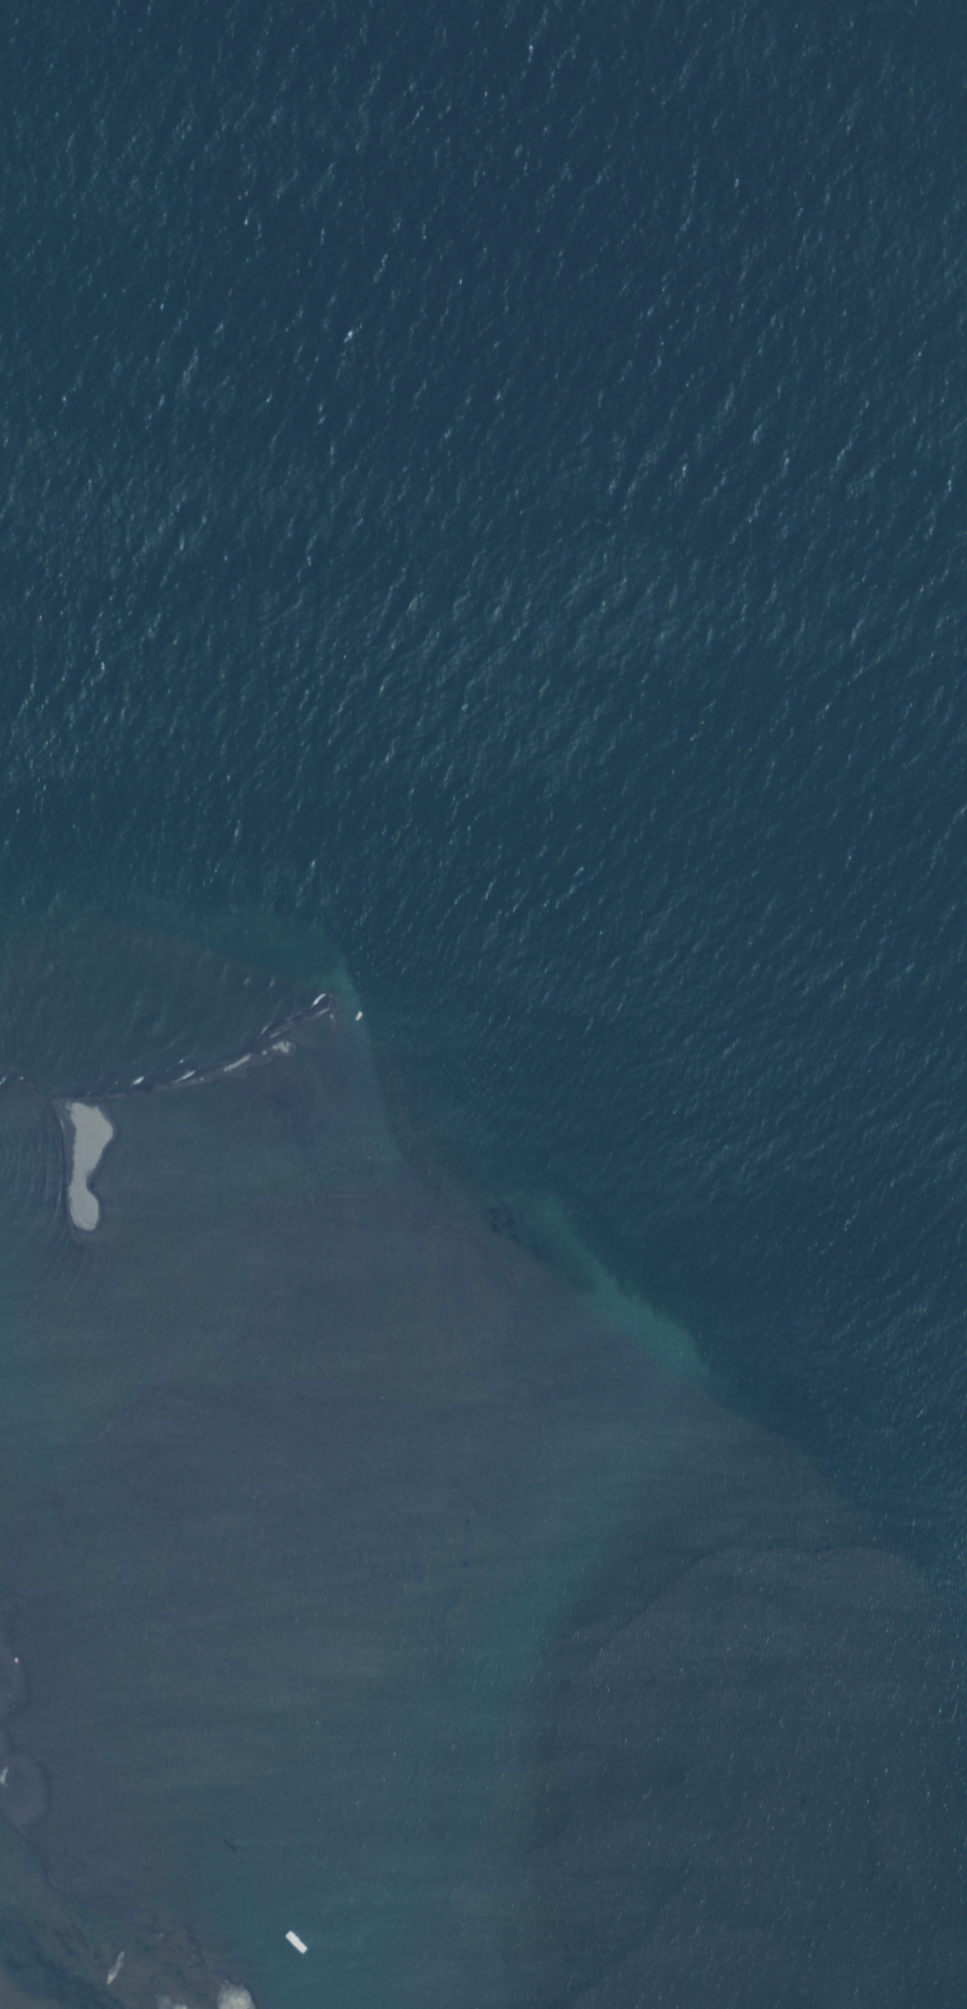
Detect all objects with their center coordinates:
river: (483, 1172)
river: (368, 1571)

